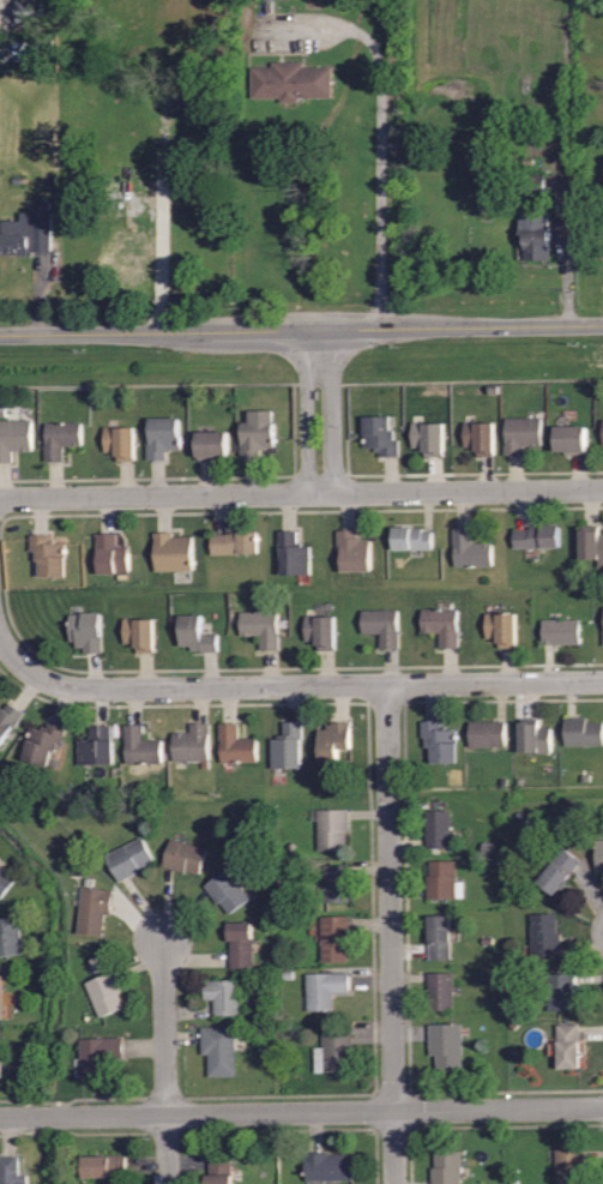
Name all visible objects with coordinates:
building: (34, 11)
building: (290, 80)
road: (382, 137)
building: (601, 223)
building: (25, 233)
building: (535, 233)
building: (131, 252)
road: (568, 258)
road: (162, 268)
road: (301, 329)
road: (321, 410)
building: (258, 432)
building: (520, 433)
building: (382, 434)
building: (161, 435)
building: (427, 435)
building: (480, 435)
building: (14, 437)
building: (60, 437)
building: (569, 437)
building: (120, 440)
building: (211, 444)
road: (301, 493)
building: (536, 535)
building: (411, 537)
building: (234, 542)
building: (592, 542)
building: (470, 548)
building: (354, 549)
building: (173, 551)
building: (109, 553)
building: (293, 553)
building: (48, 554)
building: (381, 623)
building: (442, 624)
building: (261, 625)
building: (320, 629)
building: (501, 629)
building: (560, 630)
building: (139, 631)
building: (85, 632)
building: (194, 633)
road: (290, 685)
building: (8, 719)
building: (583, 731)
building: (487, 732)
building: (536, 734)
building: (333, 739)
building: (192, 740)
building: (42, 741)
building: (235, 741)
building: (439, 741)
building: (140, 744)
building: (96, 745)
building: (287, 745)
building: (330, 828)
building: (438, 828)
building: (599, 854)
building: (183, 855)
building: (129, 858)
building: (559, 870)
building: (442, 881)
building: (5, 882)
building: (337, 883)
building: (227, 889)
building: (95, 909)
road: (390, 933)
building: (10, 936)
building: (439, 936)
building: (544, 936)
building: (334, 937)
building: (241, 943)
building: (325, 987)
building: (440, 990)
building: (560, 990)
building: (105, 993)
building: (223, 994)
building: (1, 998)
road: (165, 1026)
building: (446, 1045)
building: (567, 1045)
building: (219, 1048)
building: (98, 1053)
building: (333, 1053)
building: (0, 1068)
road: (301, 1112)
road: (167, 1149)
building: (104, 1165)
building: (327, 1165)
building: (568, 1165)
building: (446, 1167)
building: (219, 1170)
building: (10, 1171)

